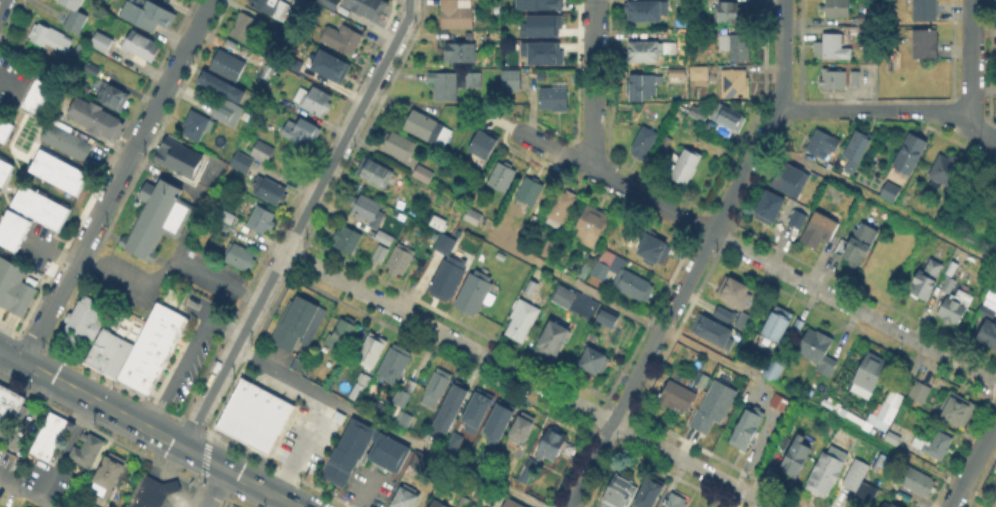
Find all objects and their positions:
building: (180, 2)
building: (302, 2)
building: (535, 4)
road: (3, 5)
building: (273, 8)
building: (368, 9)
building: (839, 9)
building: (646, 12)
building: (926, 12)
building: (147, 13)
building: (458, 14)
building: (732, 14)
building: (75, 15)
building: (539, 24)
building: (246, 28)
building: (860, 32)
building: (49, 35)
building: (101, 40)
building: (344, 41)
building: (737, 46)
building: (927, 46)
building: (146, 47)
building: (836, 49)
building: (540, 51)
building: (650, 52)
building: (461, 54)
building: (317, 58)
road: (972, 62)
building: (229, 67)
building: (92, 69)
building: (677, 73)
building: (700, 74)
building: (859, 79)
road: (9, 81)
building: (513, 81)
building: (835, 81)
building: (643, 82)
building: (737, 84)
building: (455, 85)
road: (592, 85)
building: (219, 87)
building: (38, 93)
building: (114, 98)
building: (556, 100)
building: (315, 102)
road: (854, 110)
building: (228, 113)
building: (699, 113)
building: (94, 116)
building: (729, 118)
road: (965, 125)
building: (196, 127)
building: (4, 128)
building: (429, 130)
building: (302, 134)
building: (71, 140)
building: (482, 142)
building: (646, 143)
building: (824, 146)
building: (857, 147)
building: (399, 149)
building: (263, 152)
building: (176, 155)
building: (913, 157)
building: (243, 164)
building: (4, 169)
building: (688, 169)
building: (56, 170)
building: (376, 170)
building: (424, 174)
building: (948, 174)
building: (502, 178)
building: (788, 178)
road: (115, 181)
building: (272, 191)
building: (891, 193)
building: (531, 194)
road: (878, 202)
building: (38, 205)
building: (563, 206)
building: (771, 210)
building: (224, 212)
building: (370, 213)
building: (474, 215)
building: (156, 216)
building: (799, 220)
building: (263, 221)
building: (533, 222)
road: (299, 224)
building: (593, 225)
building: (11, 227)
building: (821, 234)
building: (387, 240)
road: (176, 241)
building: (348, 243)
building: (447, 246)
building: (651, 246)
building: (547, 248)
building: (858, 249)
road: (49, 251)
building: (377, 252)
building: (381, 256)
road: (756, 257)
building: (241, 258)
road: (697, 259)
building: (402, 261)
building: (608, 266)
road: (216, 275)
building: (926, 275)
building: (448, 279)
building: (948, 282)
building: (13, 286)
building: (636, 287)
building: (474, 294)
building: (567, 295)
building: (737, 295)
building: (954, 303)
building: (722, 313)
building: (987, 315)
building: (606, 319)
building: (82, 320)
building: (291, 321)
building: (523, 322)
building: (778, 322)
building: (799, 325)
building: (712, 329)
building: (157, 334)
building: (340, 335)
building: (988, 336)
building: (554, 344)
building: (370, 349)
building: (107, 351)
building: (820, 352)
road: (188, 355)
road: (725, 362)
building: (395, 364)
building: (597, 364)
building: (129, 368)
building: (775, 370)
building: (870, 371)
building: (145, 377)
road: (528, 380)
building: (704, 383)
building: (359, 386)
building: (437, 388)
building: (922, 393)
building: (404, 395)
building: (676, 398)
building: (780, 404)
building: (8, 406)
building: (447, 406)
building: (714, 409)
building: (473, 411)
building: (884, 411)
building: (957, 412)
building: (253, 414)
building: (405, 421)
building: (495, 422)
road: (388, 426)
building: (746, 427)
road: (148, 429)
building: (48, 433)
building: (522, 434)
building: (894, 438)
building: (452, 439)
building: (781, 443)
road: (300, 444)
building: (933, 444)
building: (552, 446)
building: (85, 448)
road: (64, 450)
building: (365, 453)
building: (482, 455)
building: (797, 456)
building: (418, 460)
road: (972, 462)
building: (827, 471)
building: (522, 473)
building: (110, 475)
building: (527, 475)
building: (917, 482)
building: (860, 483)
road: (216, 488)
building: (649, 491)
building: (153, 492)
road: (25, 493)
building: (620, 493)
building: (407, 498)
building: (463, 502)
building: (677, 502)
building: (512, 504)
building: (227, 505)
building: (438, 505)
building: (889, 505)
building: (91, 506)

